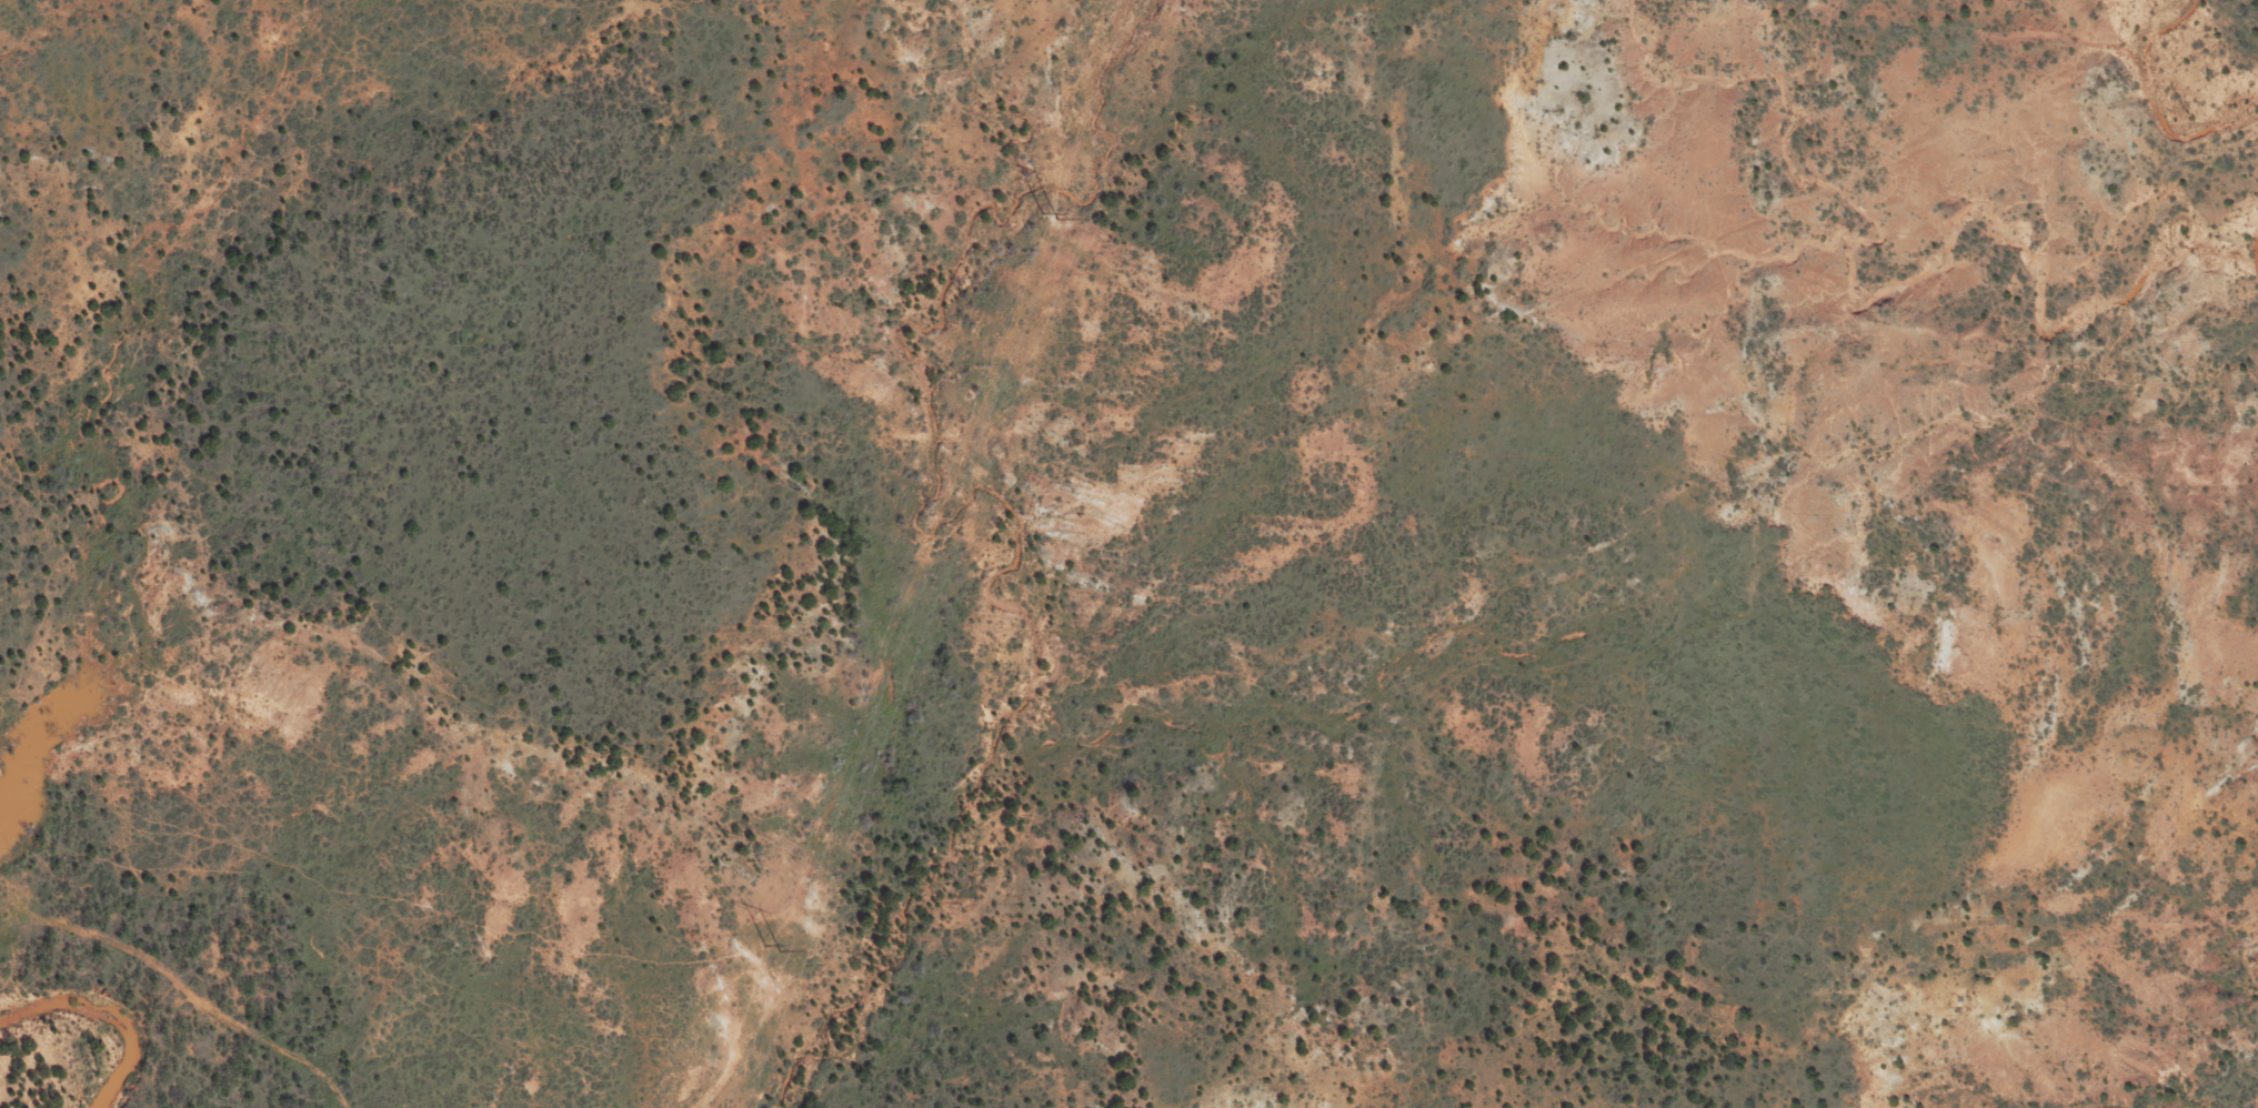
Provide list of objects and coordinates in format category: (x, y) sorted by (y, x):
power tower: (1046, 215)
power tower: (769, 948)

